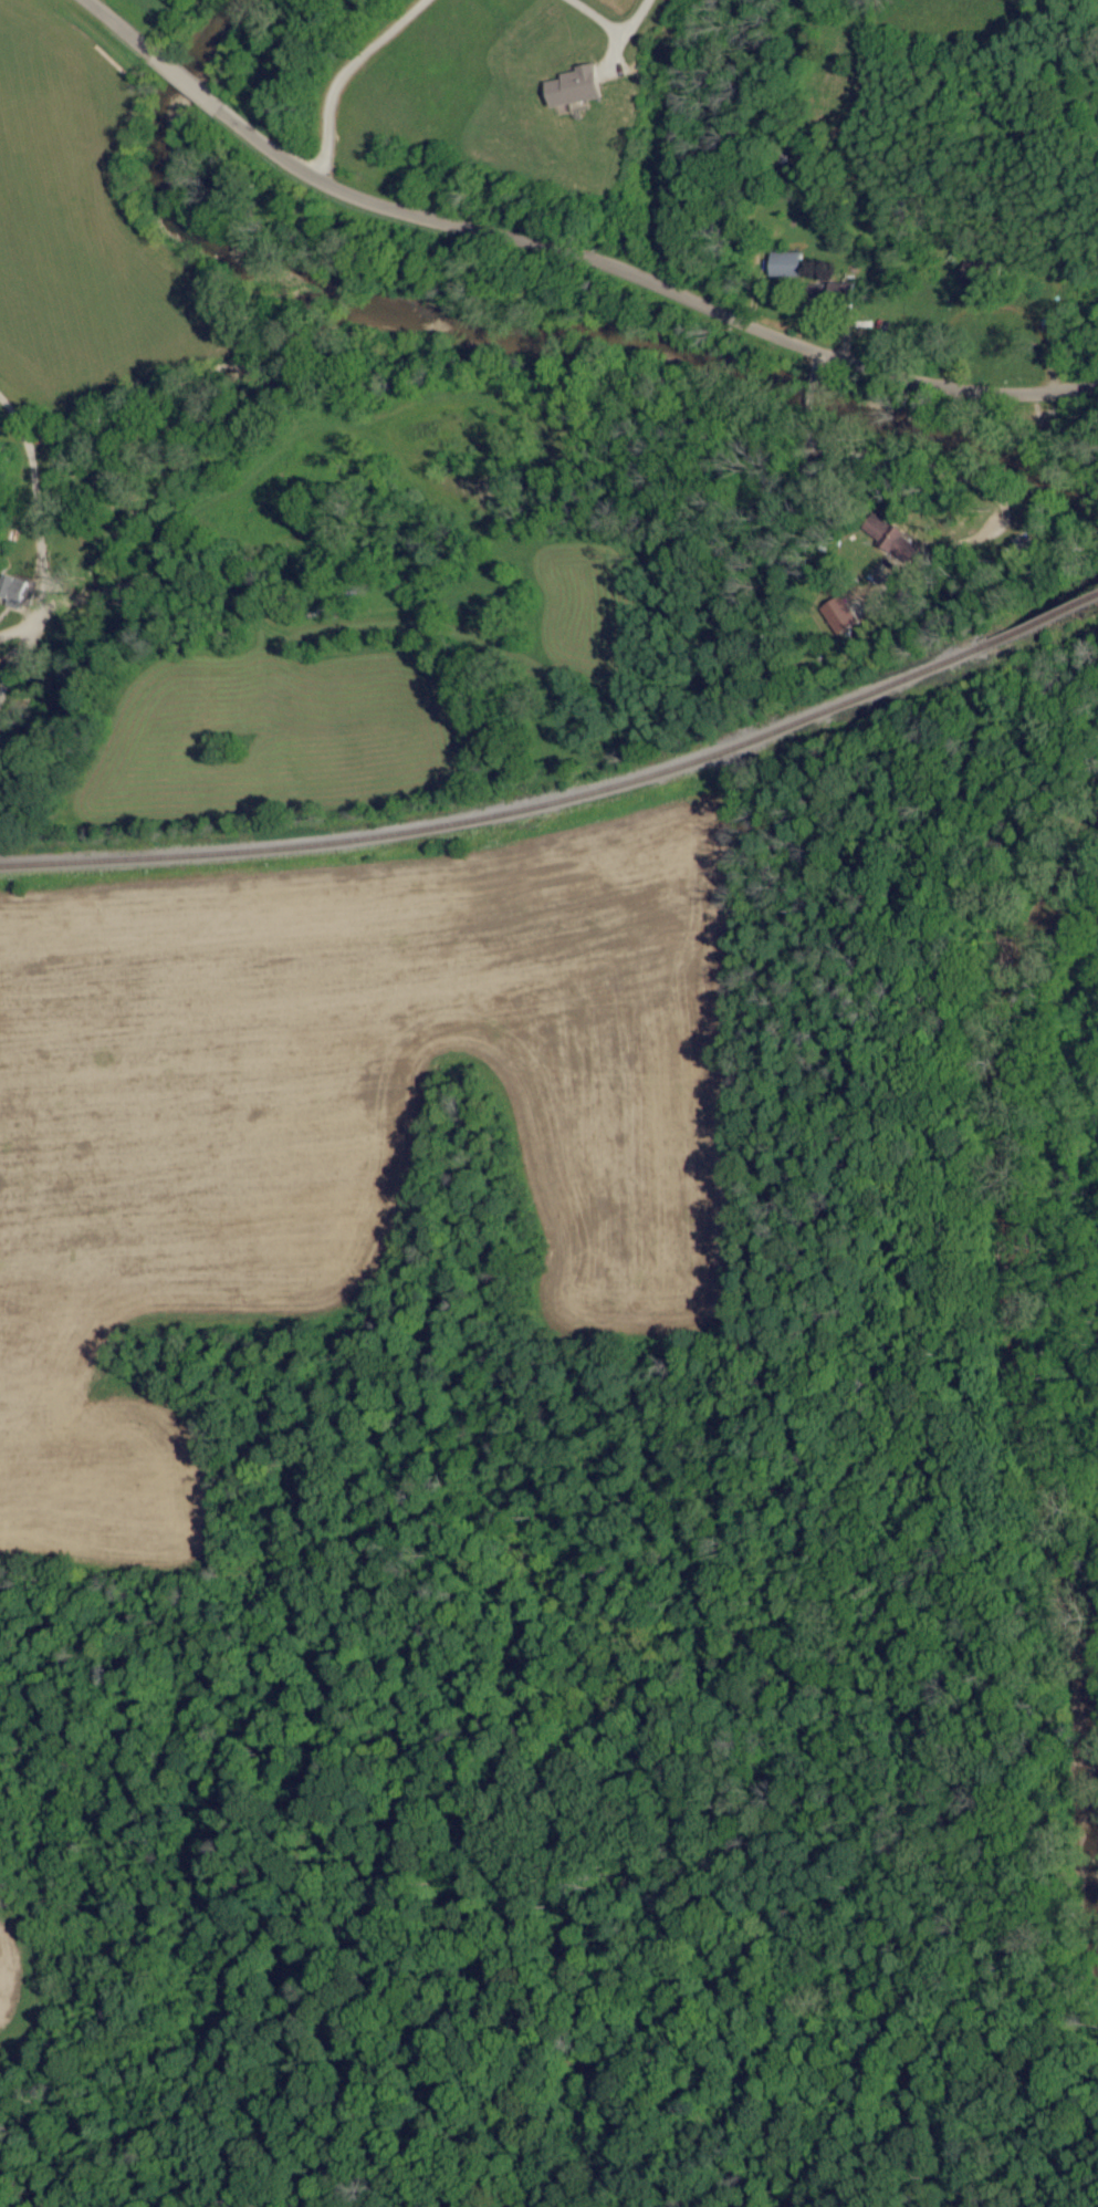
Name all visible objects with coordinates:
road: (121, 25)
road: (614, 27)
road: (343, 74)
road: (186, 79)
building: (581, 87)
building: (787, 264)
building: (976, 272)
road: (649, 275)
road: (35, 512)
building: (18, 591)
railway: (1048, 621)
railway: (895, 684)
railway: (401, 832)

